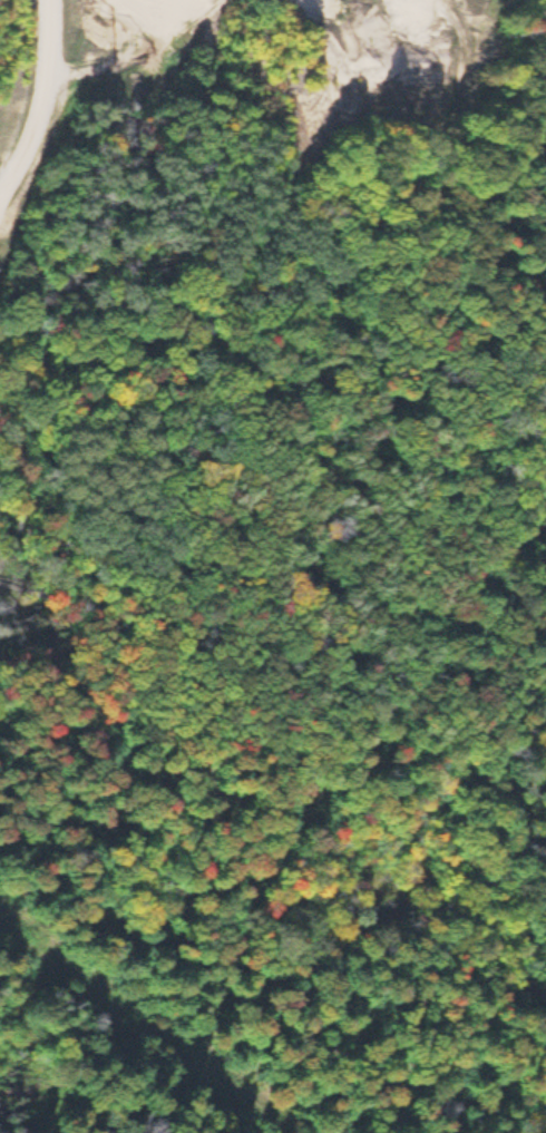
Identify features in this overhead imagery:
quarry: (143, 43)
quarry: (381, 67)
road: (52, 115)
road: (148, 1032)

